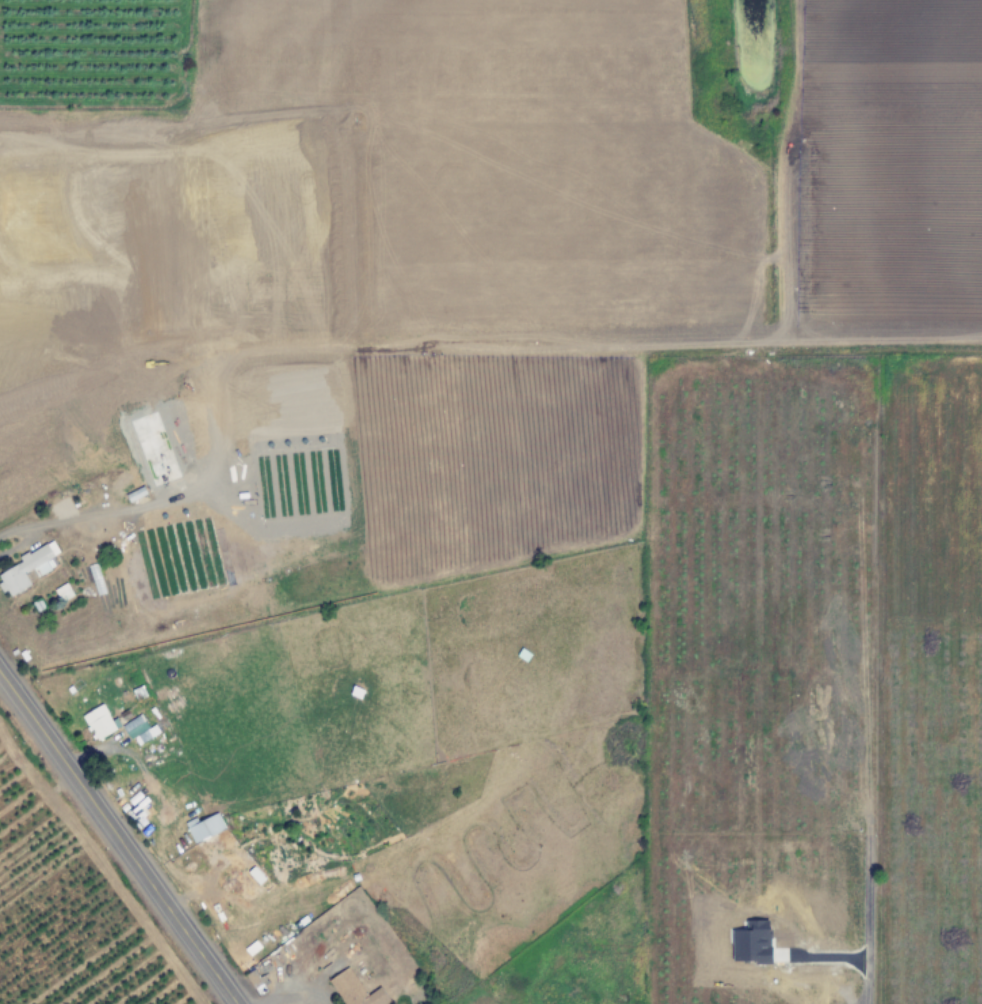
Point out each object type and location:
building: (135, 417)
building: (191, 425)
building: (136, 483)
building: (223, 510)
building: (28, 569)
building: (118, 577)
building: (63, 593)
building: (100, 722)
building: (140, 730)
building: (204, 827)
road: (118, 837)
building: (258, 976)
building: (355, 990)

